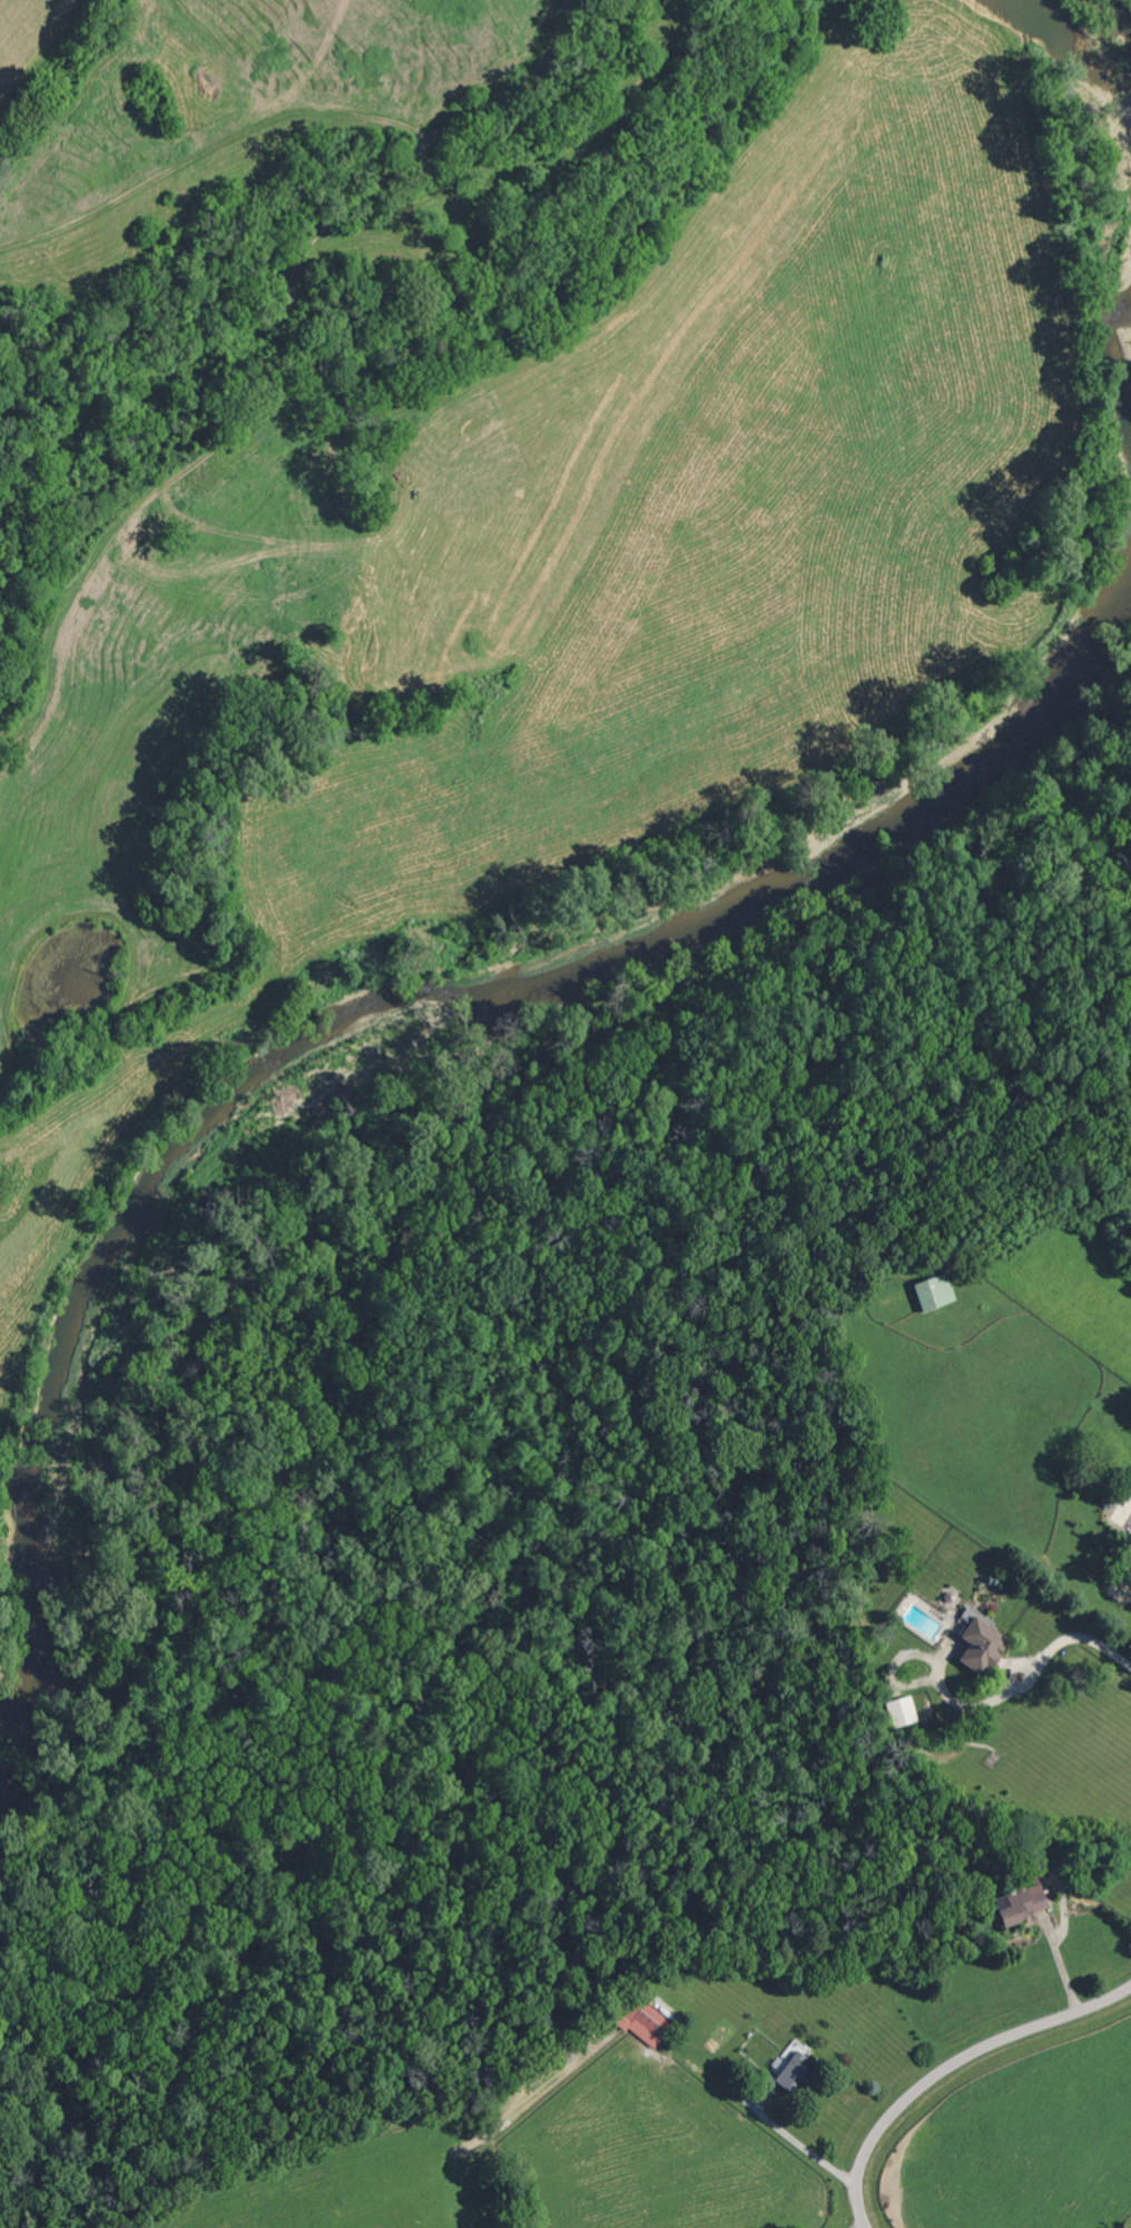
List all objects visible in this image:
river: (1122, 26)
river: (378, 1003)
building: (934, 1292)
building: (1107, 1502)
building: (1128, 1555)
road: (1072, 1641)
building: (981, 1645)
building: (901, 1711)
building: (1020, 1902)
building: (639, 2021)
road: (956, 2062)
building: (789, 2071)
road: (806, 2148)
road: (872, 2221)
road: (868, 2226)

